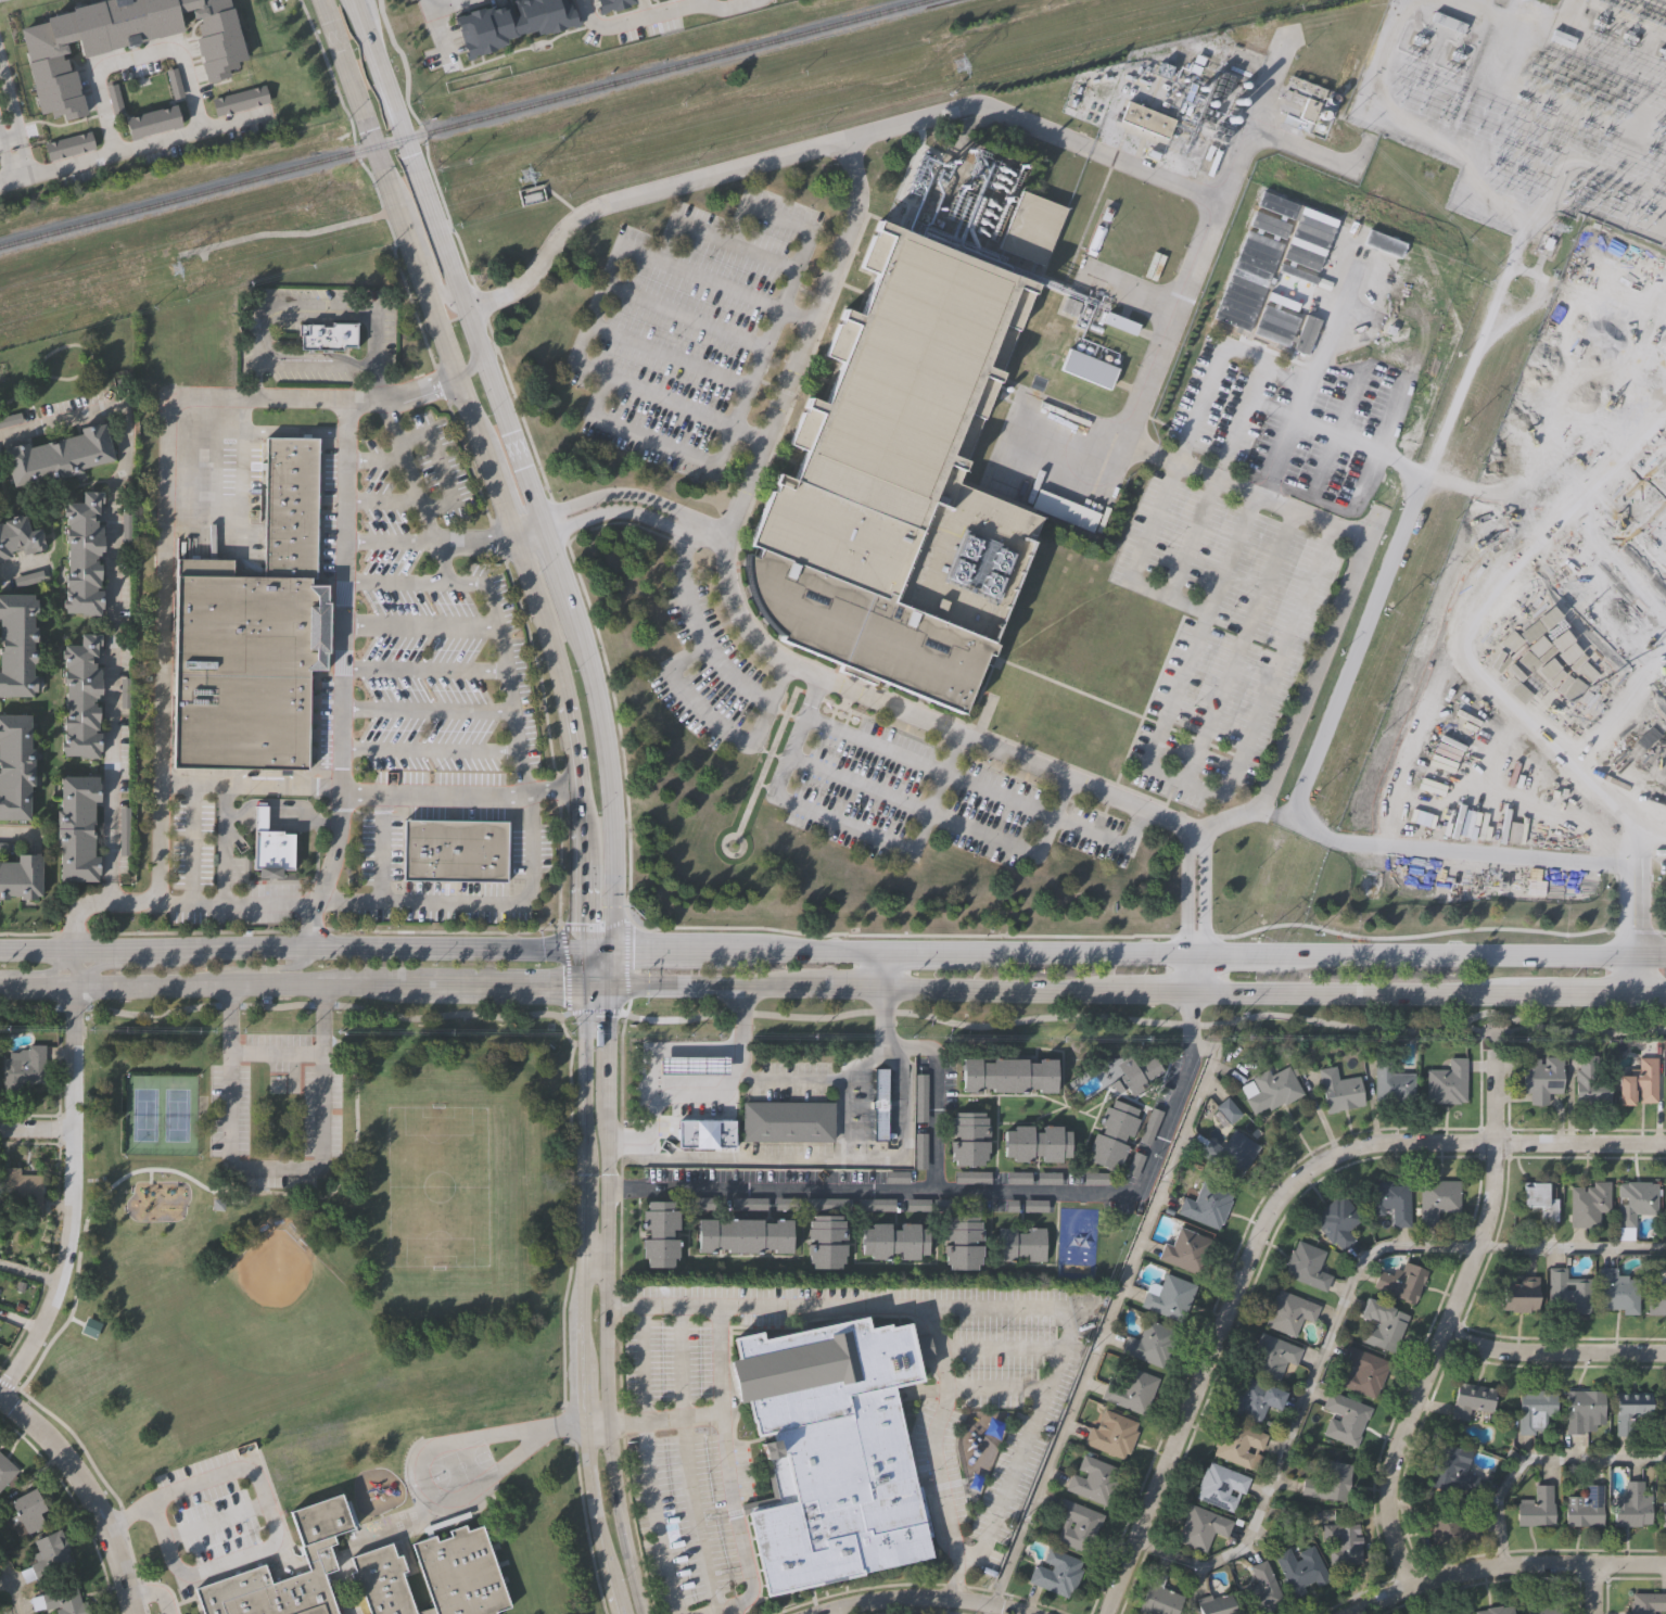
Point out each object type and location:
road: (0, 0)
building: (610, 4)
road: (442, 7)
road: (729, 7)
road: (637, 18)
building: (512, 24)
road: (442, 36)
building: (1562, 39)
building: (122, 42)
road: (135, 58)
power tower: (956, 68)
power substation: (1533, 99)
building: (239, 101)
road: (10, 105)
building: (1318, 114)
building: (1148, 117)
building: (151, 122)
railway: (465, 125)
road: (10, 137)
road: (2, 141)
road: (1246, 142)
building: (68, 148)
road: (136, 148)
road: (25, 161)
road: (9, 165)
road: (1149, 171)
power tower: (523, 177)
building: (532, 196)
road: (766, 211)
road: (402, 224)
road: (681, 224)
building: (1033, 225)
road: (281, 233)
road: (423, 246)
road: (448, 257)
power tower: (179, 267)
road: (713, 282)
road: (605, 283)
road: (1137, 289)
road: (333, 306)
road: (1385, 312)
road: (683, 315)
road: (1425, 330)
parking lot: (695, 332)
building: (328, 334)
road: (632, 338)
road: (1243, 353)
road: (472, 365)
road: (316, 366)
building: (1090, 366)
road: (1285, 373)
road: (748, 381)
road: (257, 382)
road: (594, 412)
road: (771, 414)
building: (11, 419)
road: (527, 432)
road: (1333, 434)
road: (1627, 437)
road: (1082, 450)
building: (59, 453)
road: (466, 454)
road: (1658, 454)
road: (378, 460)
road: (442, 466)
road: (411, 471)
building: (900, 478)
road: (497, 491)
road: (1409, 495)
road: (598, 497)
road: (167, 501)
road: (384, 501)
building: (290, 506)
road: (599, 514)
road: (547, 522)
road: (686, 522)
road: (707, 526)
building: (17, 534)
road: (703, 534)
road: (1192, 536)
road: (1599, 536)
parking lot: (1635, 541)
road: (391, 543)
road: (475, 543)
road: (1549, 545)
building: (84, 552)
road: (1137, 559)
road: (442, 562)
road: (565, 580)
road: (416, 581)
parking lot: (1226, 586)
road: (107, 597)
road: (1341, 601)
road: (541, 609)
road: (344, 619)
parking lot: (416, 624)
road: (422, 625)
building: (17, 645)
road: (1237, 647)
road: (708, 649)
building: (244, 665)
road: (427, 669)
building: (81, 698)
parking lot: (704, 703)
road: (429, 710)
road: (701, 712)
road: (574, 737)
road: (873, 744)
road: (432, 750)
building: (15, 765)
road: (266, 774)
road: (1181, 781)
road: (857, 784)
road: (317, 785)
road: (610, 786)
road: (996, 793)
road: (402, 798)
road: (323, 803)
parking lot: (934, 805)
road: (342, 809)
road: (270, 810)
road: (363, 812)
road: (383, 812)
road: (231, 814)
road: (581, 814)
road: (1050, 815)
road: (268, 818)
road: (322, 818)
road: (841, 822)
road: (268, 826)
building: (124, 827)
building: (77, 828)
road: (981, 833)
road: (1620, 833)
road: (1107, 837)
road: (1458, 842)
building: (4, 844)
road: (193, 846)
road: (226, 846)
building: (269, 847)
building: (455, 847)
parking lot: (530, 849)
road: (1636, 850)
road: (1645, 850)
road: (317, 866)
road: (162, 875)
building: (21, 877)
parking lot: (220, 878)
road: (1184, 890)
road: (1205, 890)
road: (583, 893)
road: (507, 906)
road: (628, 918)
road: (626, 923)
road: (279, 932)
road: (1167, 935)
road: (1633, 943)
road: (376, 945)
traffic signals: (582, 946)
road: (598, 946)
traffic signals: (614, 946)
road: (660, 946)
road: (727, 946)
road: (36, 948)
road: (120, 948)
road: (817, 948)
road: (927, 949)
road: (1080, 950)
road: (1230, 952)
road: (1450, 953)
road: (1650, 955)
road: (120, 962)
road: (72, 965)
road: (581, 965)
road: (613, 965)
road: (268, 968)
road: (567, 968)
road: (888, 968)
road: (40, 971)
road: (1194, 971)
road: (1633, 975)
road: (36, 982)
road: (232, 982)
road: (486, 982)
traffic signals: (581, 983)
road: (596, 983)
traffic signals: (612, 983)
road: (710, 986)
road: (849, 987)
road: (997, 989)
road: (1150, 991)
road: (1359, 993)
road: (1579, 995)
road: (1650, 995)
road: (582, 1006)
road: (607, 1008)
park: (30, 1015)
park: (320, 1016)
road: (834, 1016)
road: (888, 1017)
park: (1133, 1017)
road: (1492, 1031)
road: (567, 1035)
road: (1496, 1038)
road: (692, 1050)
road: (272, 1051)
building: (24, 1065)
road: (606, 1066)
building: (694, 1070)
parking lot: (794, 1072)
building: (1136, 1072)
building: (1010, 1075)
building: (1541, 1079)
building: (1590, 1079)
road: (777, 1082)
building: (1390, 1082)
building: (1447, 1082)
building: (1639, 1083)
parking lot: (1172, 1084)
building: (277, 1085)
building: (1338, 1090)
building: (1271, 1091)
parking lot: (786, 1094)
building: (919, 1095)
gas station: (678, 1096)
building: (695, 1097)
road: (700, 1097)
road: (939, 1100)
building: (881, 1102)
road: (944, 1102)
road: (1025, 1102)
road: (1092, 1107)
road: (1097, 1109)
building: (1226, 1109)
parking lot: (276, 1113)
road: (1152, 1113)
road: (648, 1115)
park: (162, 1116)
building: (789, 1119)
park: (1077, 1121)
road: (1034, 1123)
building: (1149, 1126)
road: (37, 1130)
road: (1000, 1134)
road: (583, 1136)
building: (1114, 1136)
building: (969, 1139)
building: (689, 1142)
road: (606, 1143)
building: (1035, 1143)
building: (919, 1147)
building: (1230, 1152)
parking lot: (787, 1154)
road: (272, 1166)
building: (974, 1173)
road: (1079, 1179)
building: (971, 1180)
road: (196, 1182)
road: (1000, 1182)
building: (22, 1191)
park: (444, 1193)
road: (72, 1195)
road: (978, 1195)
building: (1436, 1198)
building: (1539, 1198)
building: (1635, 1199)
building: (1390, 1200)
building: (1587, 1203)
building: (1665, 1203)
building: (218, 1205)
building: (874, 1205)
building: (1205, 1205)
road: (606, 1216)
road: (1267, 1217)
building: (1336, 1221)
park: (298, 1224)
road: (571, 1225)
building: (661, 1231)
road: (1055, 1232)
building: (747, 1233)
building: (828, 1238)
building: (893, 1240)
building: (965, 1240)
park: (1076, 1240)
building: (1022, 1242)
road: (593, 1243)
building: (1185, 1250)
road: (993, 1261)
road: (783, 1264)
building: (1306, 1266)
road: (936, 1271)
road: (29, 1272)
park: (275, 1280)
building: (1400, 1281)
building: (1616, 1291)
building: (1567, 1292)
building: (1518, 1293)
building: (1167, 1297)
building: (1655, 1297)
parking lot: (786, 1299)
road: (620, 1308)
building: (1288, 1312)
road: (1337, 1313)
road: (1452, 1319)
road: (76, 1321)
building: (1381, 1323)
building: (89, 1326)
road: (600, 1332)
road: (1102, 1332)
road: (578, 1333)
building: (1148, 1343)
road: (1001, 1349)
road: (939, 1350)
road: (1555, 1352)
building: (1271, 1355)
road: (684, 1361)
parking lot: (672, 1362)
road: (646, 1363)
building: (825, 1370)
building: (1363, 1370)
road: (1053, 1375)
road: (9, 1385)
parking lot: (1015, 1389)
building: (1131, 1390)
road: (996, 1393)
building: (1254, 1398)
building: (1468, 1399)
building: (1662, 1410)
road: (721, 1412)
building: (1537, 1412)
building: (1584, 1412)
road: (684, 1413)
building: (1632, 1415)
building: (1344, 1418)
road: (624, 1419)
road: (565, 1422)
road: (590, 1422)
road: (557, 1428)
building: (1665, 1434)
building: (1111, 1436)
road: (465, 1439)
road: (78, 1441)
building: (1239, 1445)
street lamp: (219, 1449)
road: (1536, 1459)
park: (461, 1466)
building: (1448, 1467)
street lamp: (166, 1469)
building: (5, 1474)
parking lot: (940, 1474)
parking lot: (749, 1477)
building: (1092, 1479)
building: (1330, 1482)
road: (484, 1484)
road: (271, 1485)
building: (1220, 1486)
road: (88, 1491)
building: (841, 1496)
road: (592, 1503)
building: (1631, 1503)
building: (1535, 1507)
road: (476, 1508)
building: (1582, 1509)
building: (26, 1512)
road: (270, 1514)
road: (699, 1514)
parking lot: (211, 1515)
road: (661, 1515)
building: (1664, 1515)
road: (618, 1517)
road: (442, 1518)
road: (450, 1518)
parking lot: (687, 1520)
road: (123, 1521)
road: (216, 1522)
building: (445, 1522)
road: (269, 1524)
road: (585, 1524)
building: (1077, 1525)
building: (1450, 1526)
building: (1200, 1527)
road: (425, 1528)
road: (289, 1538)
street lamp: (414, 1539)
building: (1340, 1541)
street lamp: (222, 1542)
building: (318, 1553)
road: (131, 1555)
building: (50, 1556)
road: (1504, 1565)
building: (1299, 1568)
road: (233, 1571)
building: (1055, 1573)
building: (434, 1575)
road: (165, 1587)
road: (11, 1588)
building: (1259, 1589)
road: (1594, 1589)
road: (140, 1592)
road: (154, 1593)
road: (192, 1599)
road: (611, 1599)
road: (924, 1599)
building: (1157, 1600)
building: (59, 1601)
building: (1214, 1603)
building: (1648, 1603)
building: (1544, 1609)
road: (147, 1610)
building: (1492, 1610)
building: (2, 1613)
street lamp: (157, 1613)
road: (734, 1613)
building: (1455, 1613)

